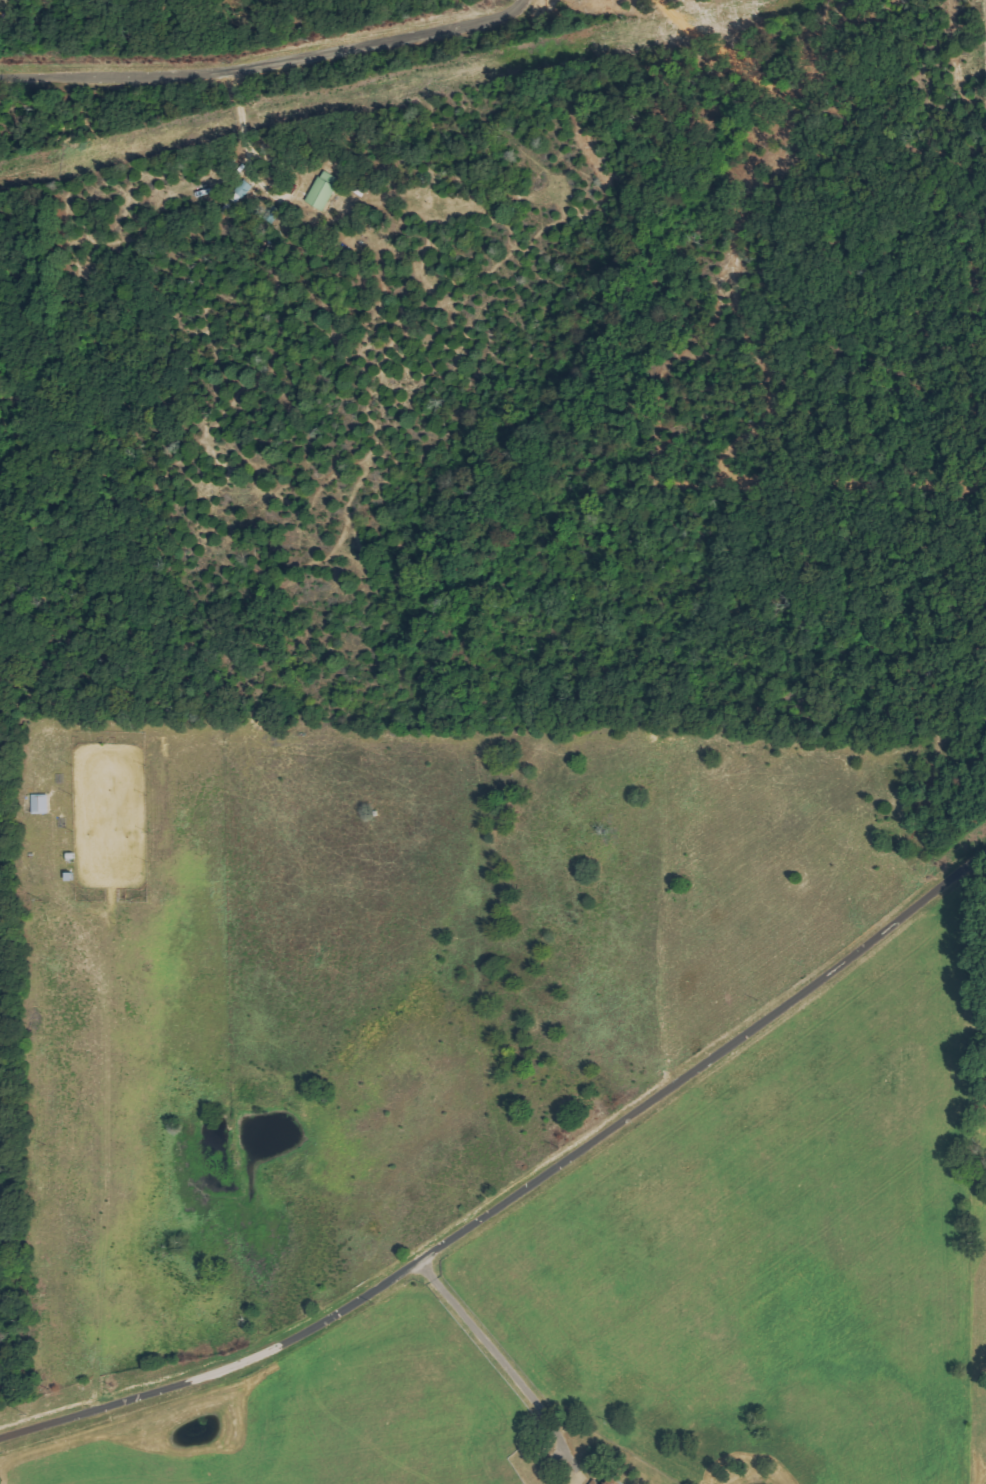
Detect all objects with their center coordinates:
road: (265, 64)
building: (324, 190)
building: (42, 804)
road: (518, 1190)
building: (619, 1481)

